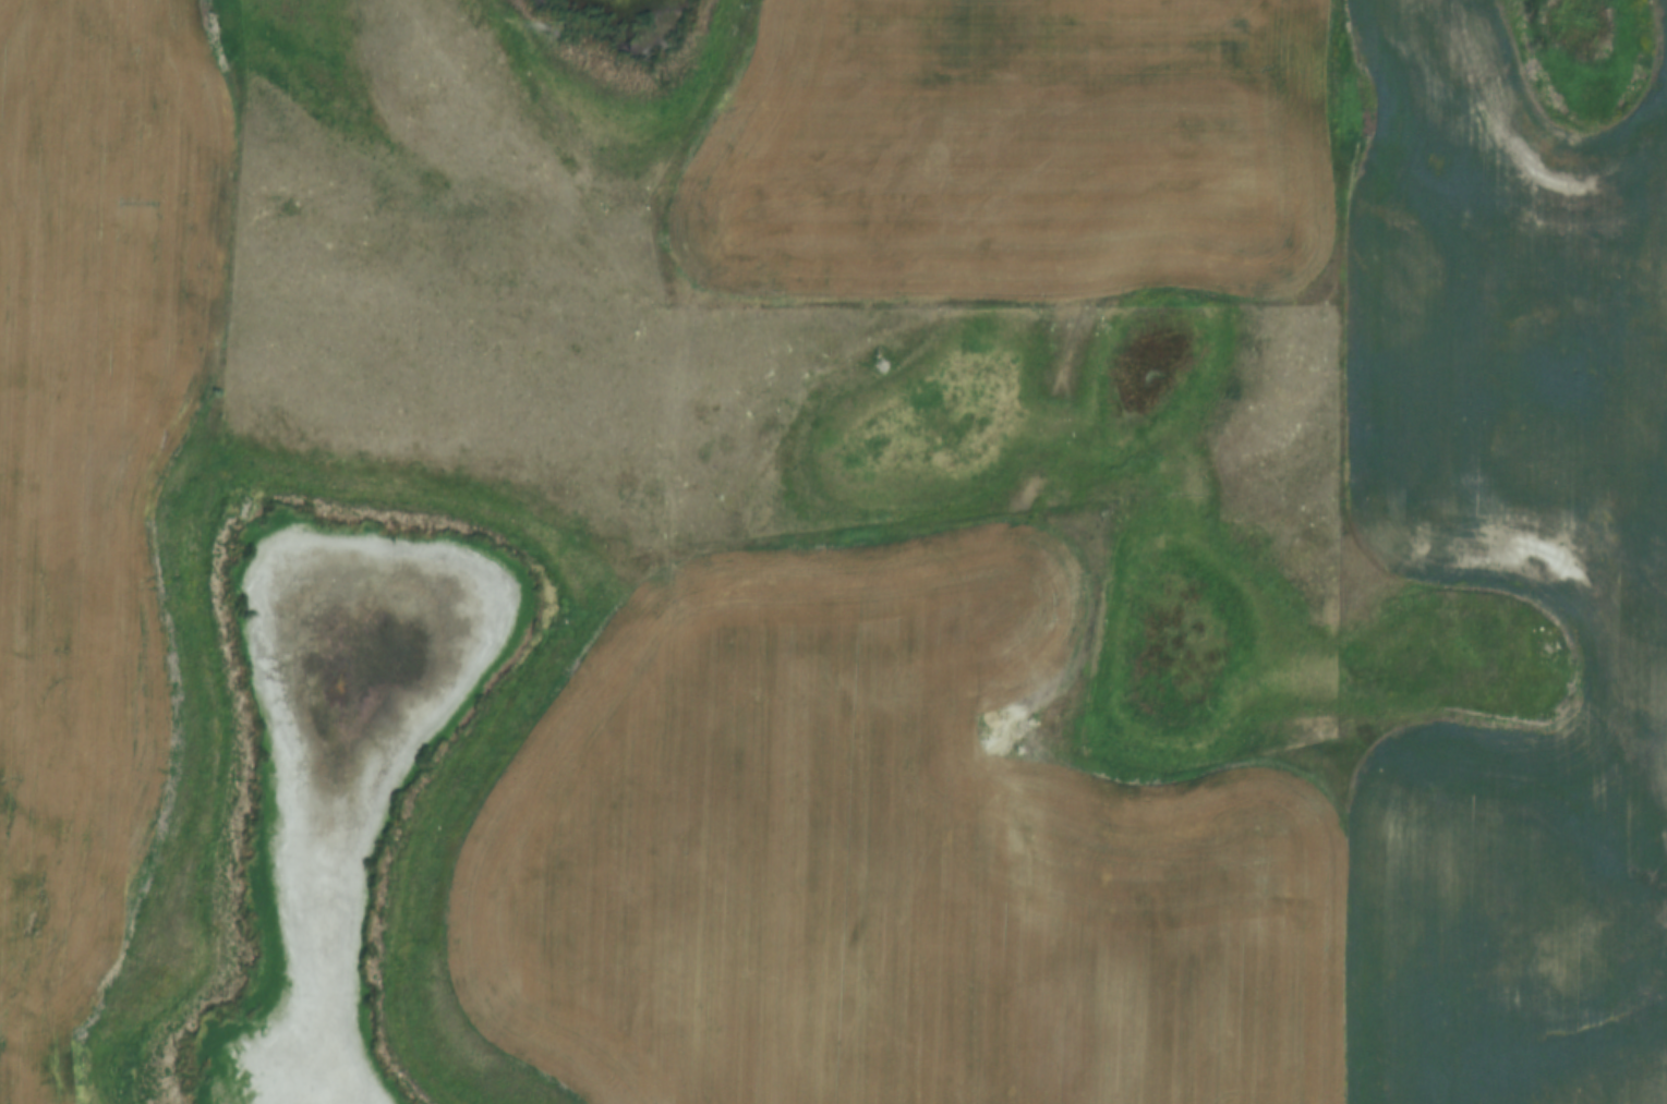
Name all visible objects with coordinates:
road: (620, 338)

